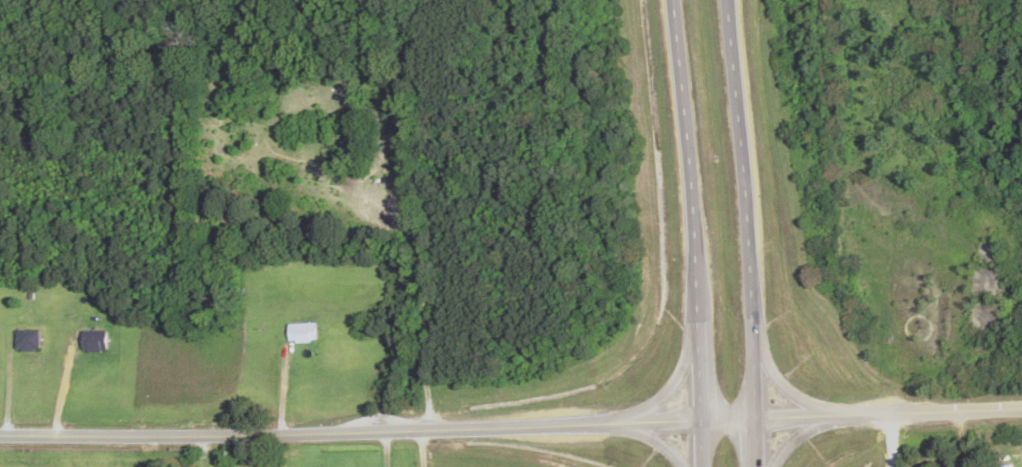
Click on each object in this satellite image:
road: (684, 160)
road: (743, 209)
building: (303, 333)
building: (27, 341)
building: (94, 341)
road: (698, 371)
road: (776, 379)
road: (673, 384)
road: (511, 426)
road: (798, 436)
road: (653, 441)
road: (755, 443)
road: (700, 444)

